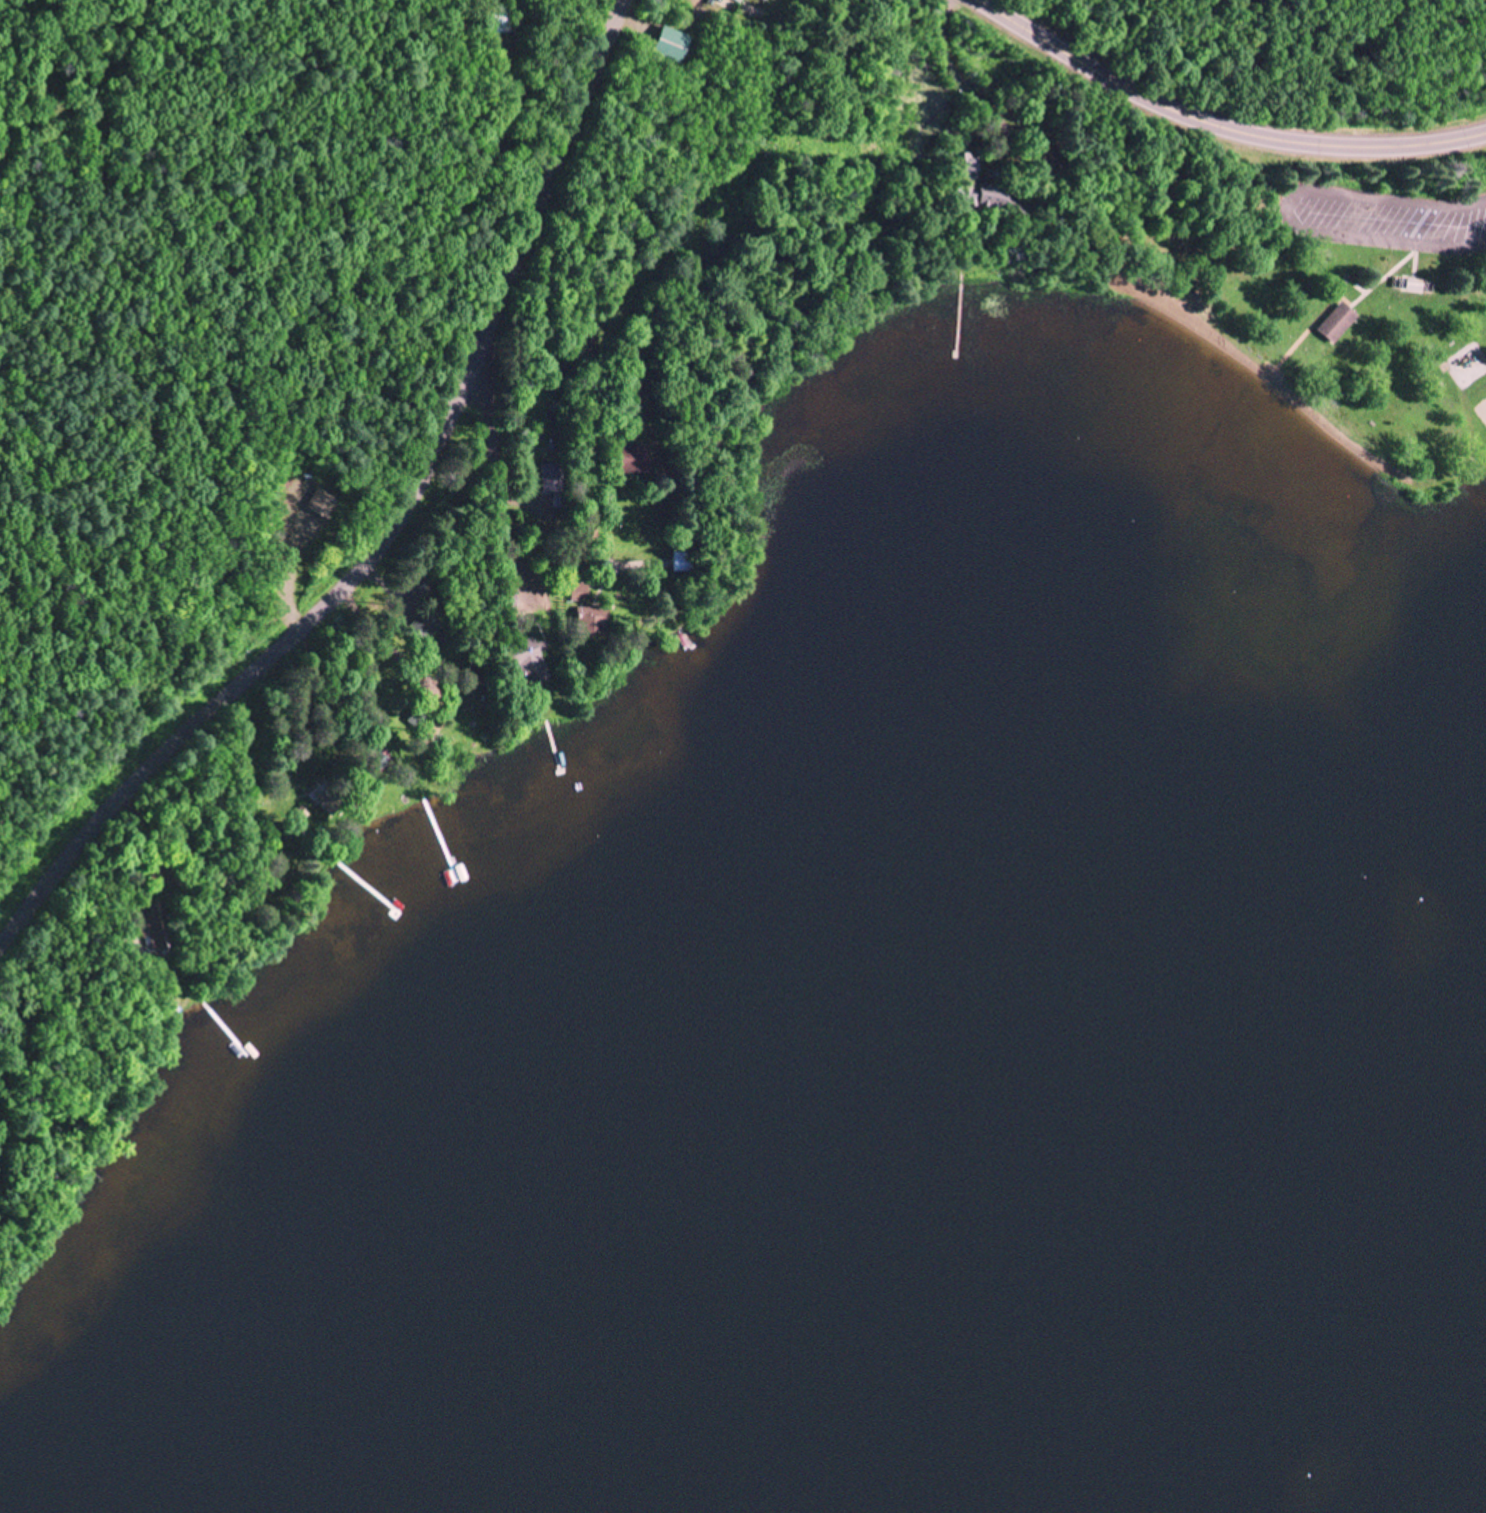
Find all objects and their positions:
building: (765, 1)
building: (739, 2)
building: (500, 20)
building: (671, 46)
road: (1219, 125)
building: (1340, 326)
park: (1483, 411)
building: (551, 479)
road: (401, 531)
building: (580, 596)

